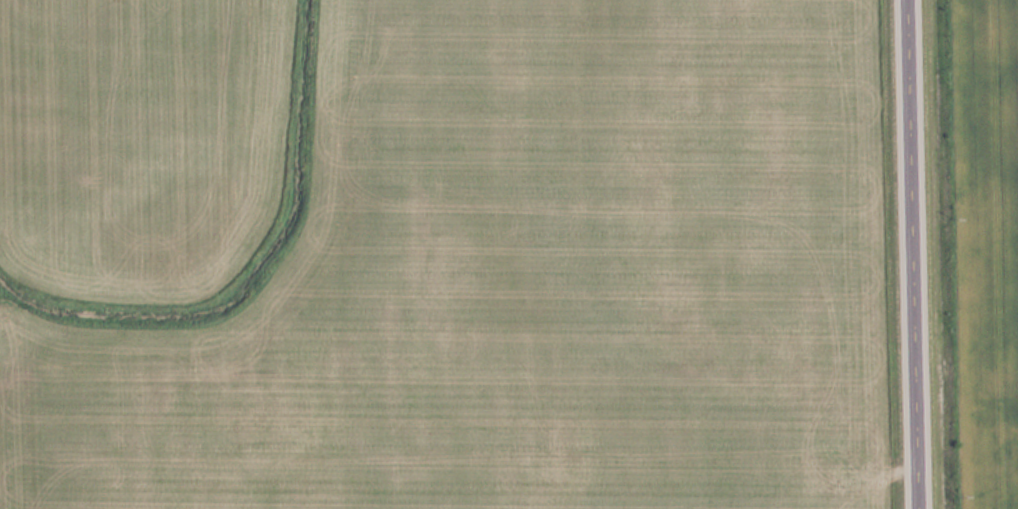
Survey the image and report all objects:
road: (912, 254)

